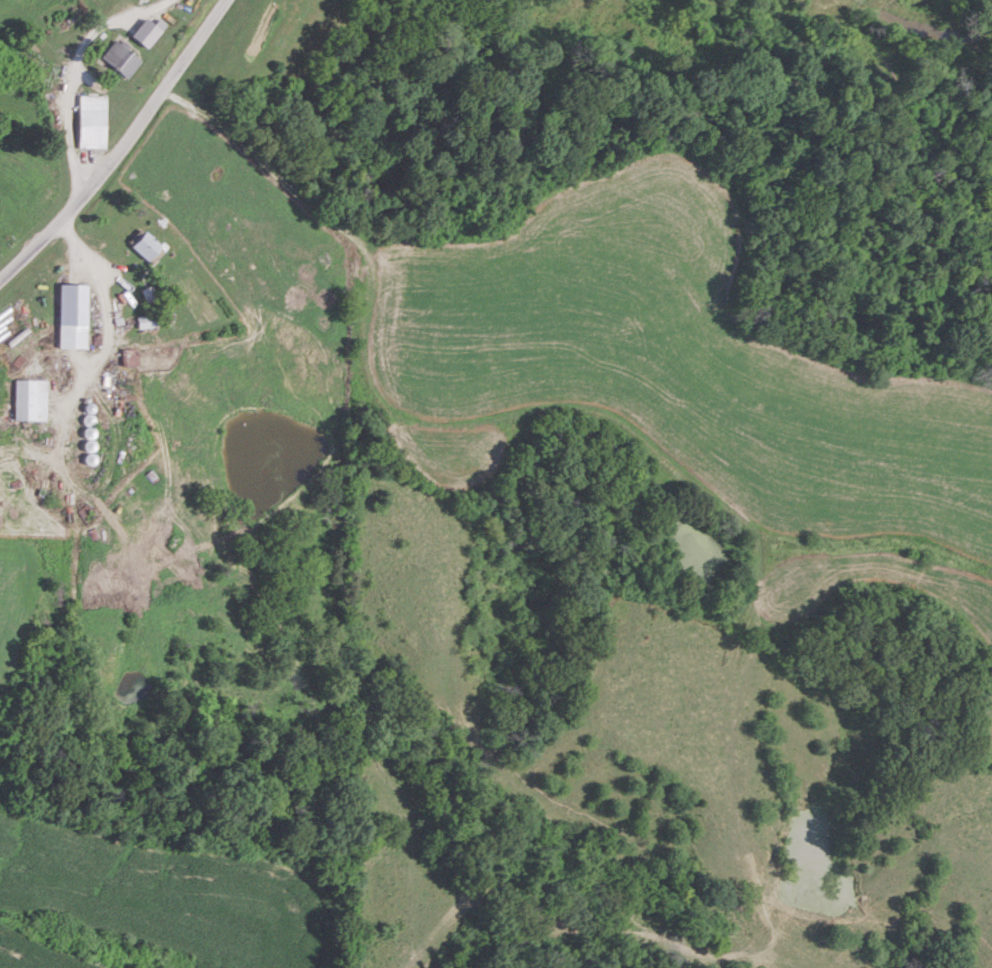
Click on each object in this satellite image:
building: (123, 59)
road: (78, 72)
building: (93, 121)
road: (121, 145)
building: (147, 246)
building: (150, 294)
building: (73, 316)
building: (148, 321)
building: (132, 356)
building: (30, 400)

